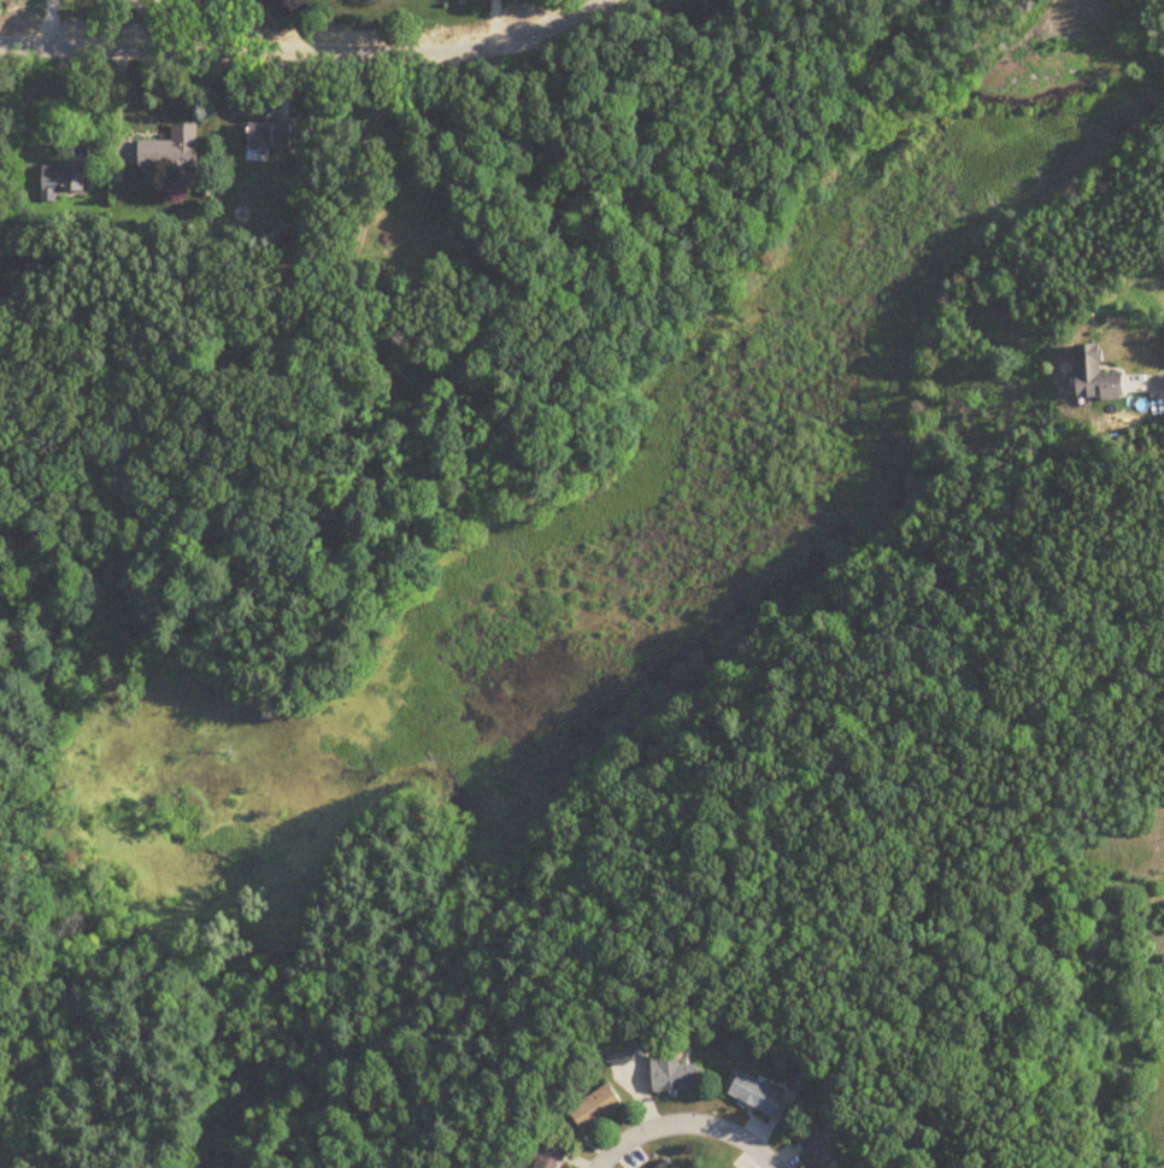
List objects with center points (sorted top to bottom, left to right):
road: (54, 23)
road: (252, 25)
road: (306, 52)
building: (271, 136)
building: (171, 151)
building: (61, 182)
building: (1098, 375)
building: (623, 1049)
building: (675, 1074)
building: (798, 1082)
building: (756, 1094)
building: (598, 1108)
road: (687, 1123)
building: (816, 1146)
building: (553, 1156)
building: (668, 1164)

